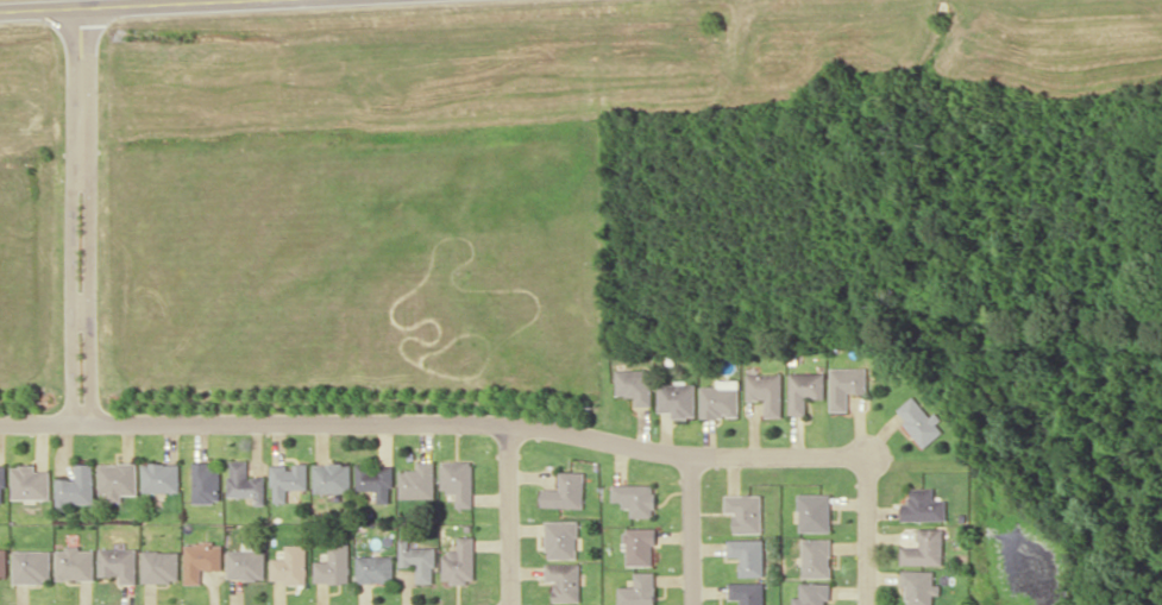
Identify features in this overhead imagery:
road: (101, 4)
road: (83, 214)
building: (635, 384)
building: (846, 385)
building: (805, 390)
building: (767, 391)
building: (721, 398)
building: (677, 399)
building: (918, 420)
road: (45, 422)
road: (482, 423)
building: (159, 477)
building: (332, 477)
building: (117, 479)
building: (288, 479)
building: (376, 480)
building: (419, 480)
building: (459, 480)
building: (206, 481)
building: (245, 481)
building: (30, 483)
building: (2, 484)
building: (75, 487)
building: (566, 490)
building: (636, 498)
building: (924, 505)
building: (746, 511)
building: (815, 511)
road: (508, 515)
road: (871, 529)
road: (697, 530)
building: (561, 538)
building: (640, 546)
building: (925, 548)
building: (749, 555)
building: (817, 557)
building: (201, 559)
building: (419, 560)
building: (2, 561)
building: (460, 561)
building: (74, 562)
building: (245, 562)
building: (118, 563)
building: (333, 563)
building: (30, 565)
building: (290, 565)
building: (159, 566)
building: (375, 568)
building: (565, 580)
building: (921, 586)
building: (640, 590)
building: (747, 592)
building: (812, 593)

